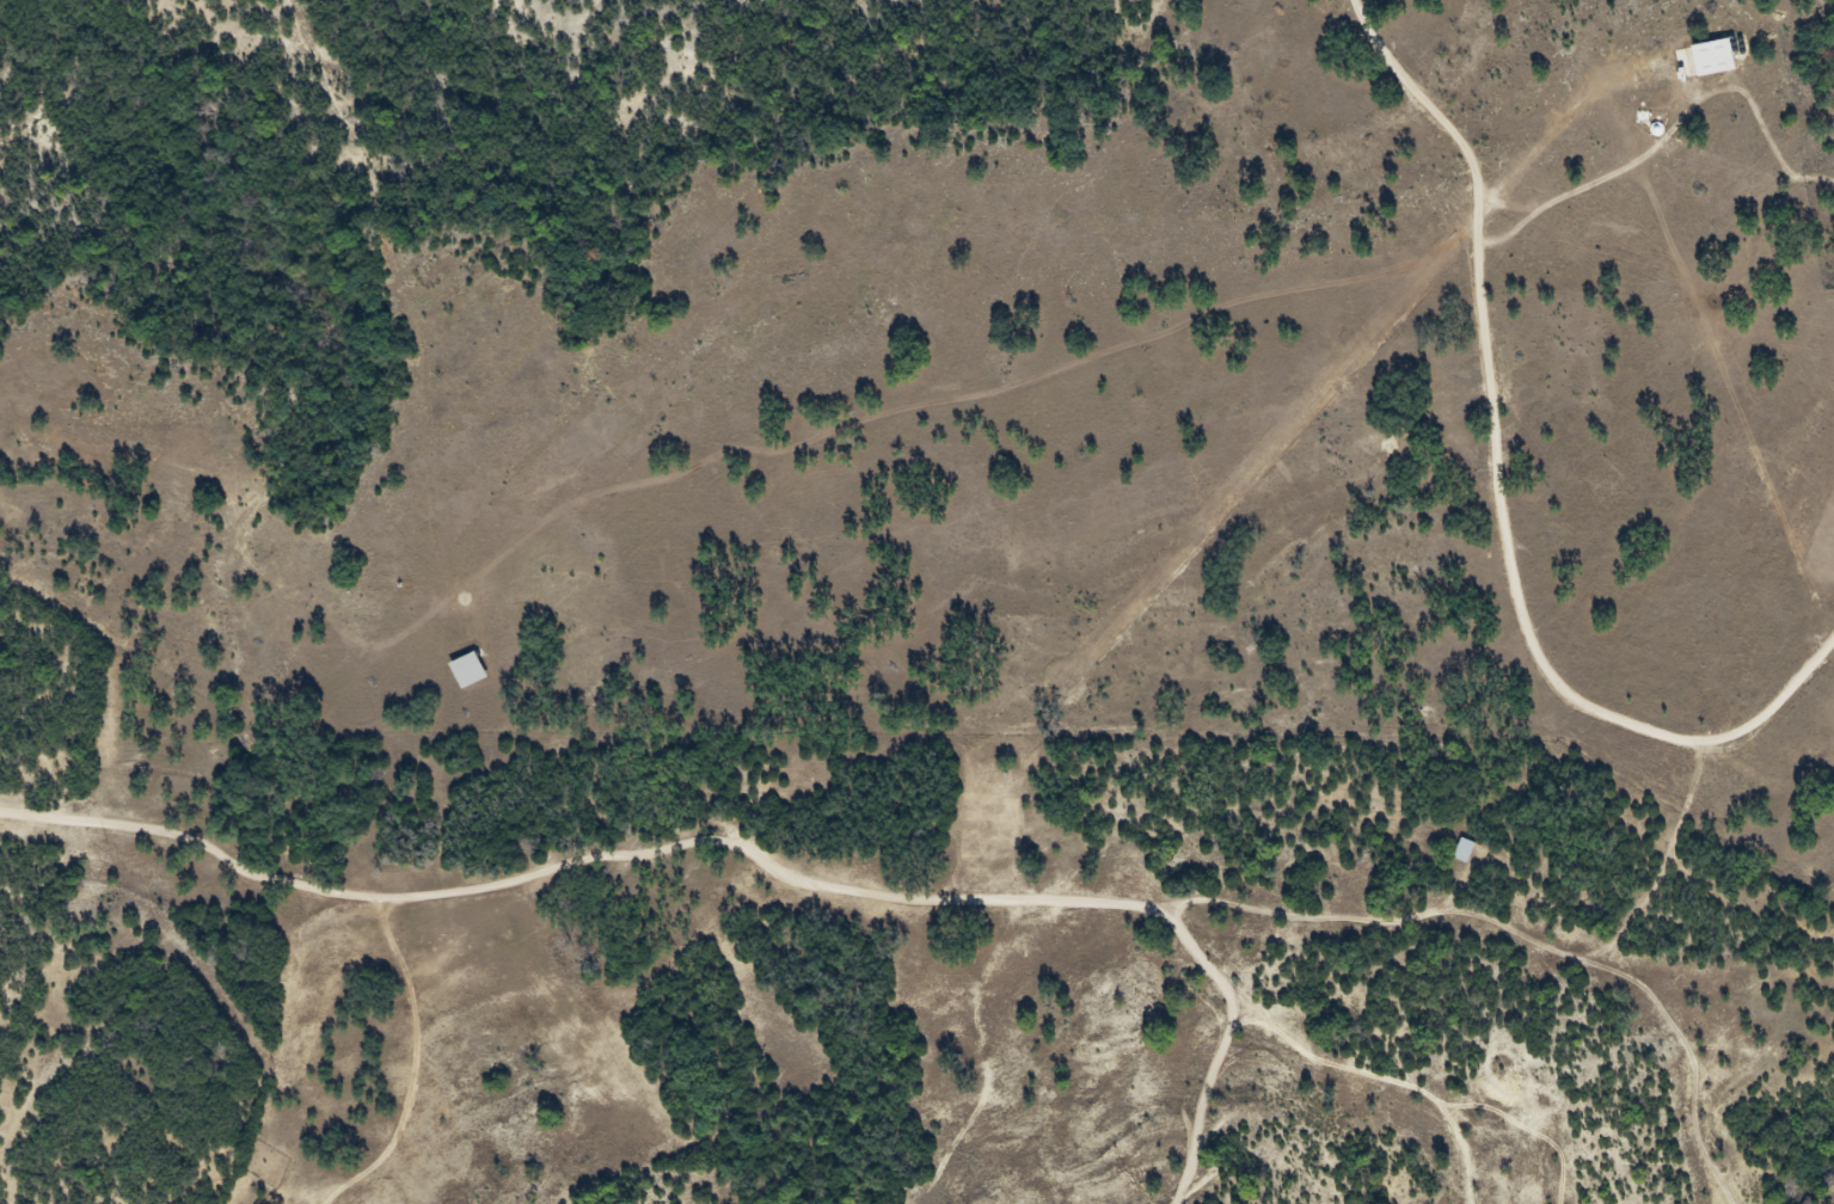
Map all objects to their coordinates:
building: (1700, 66)
road: (1670, 136)
road: (1499, 493)
building: (458, 675)
building: (1452, 856)
road: (263, 873)

